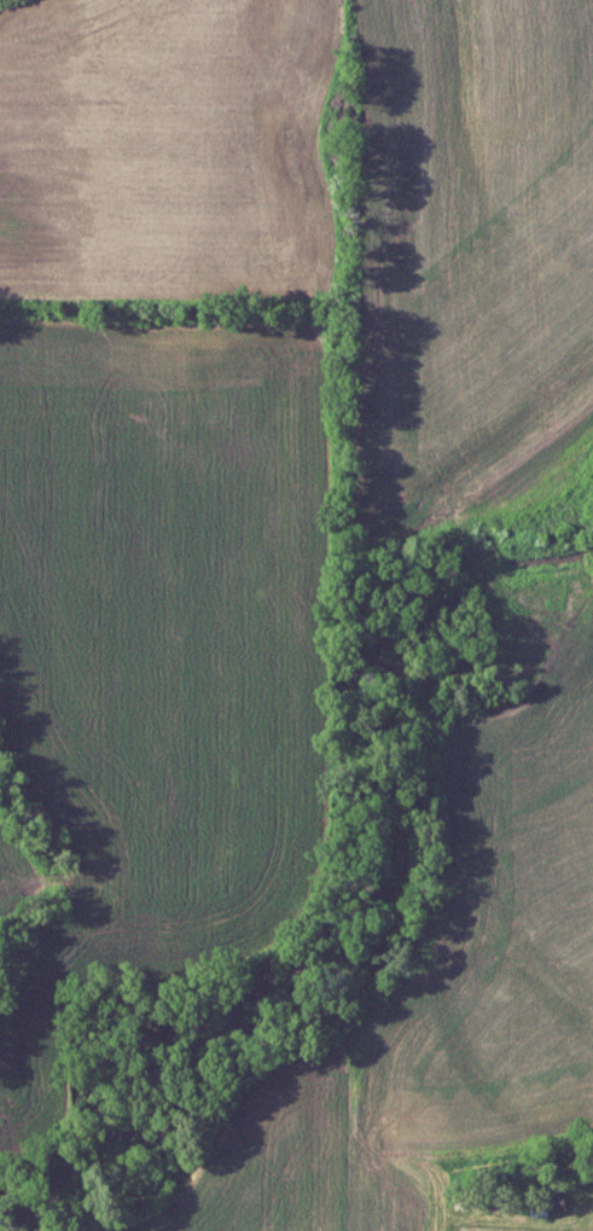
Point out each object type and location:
building: (536, 1196)

